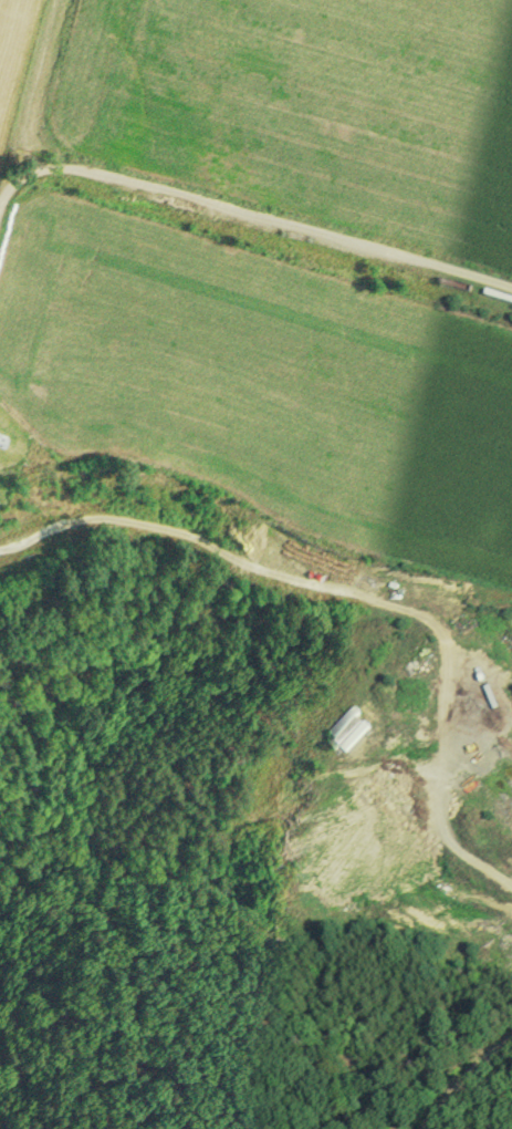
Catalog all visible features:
road: (250, 214)
road: (228, 553)
road: (415, 728)

